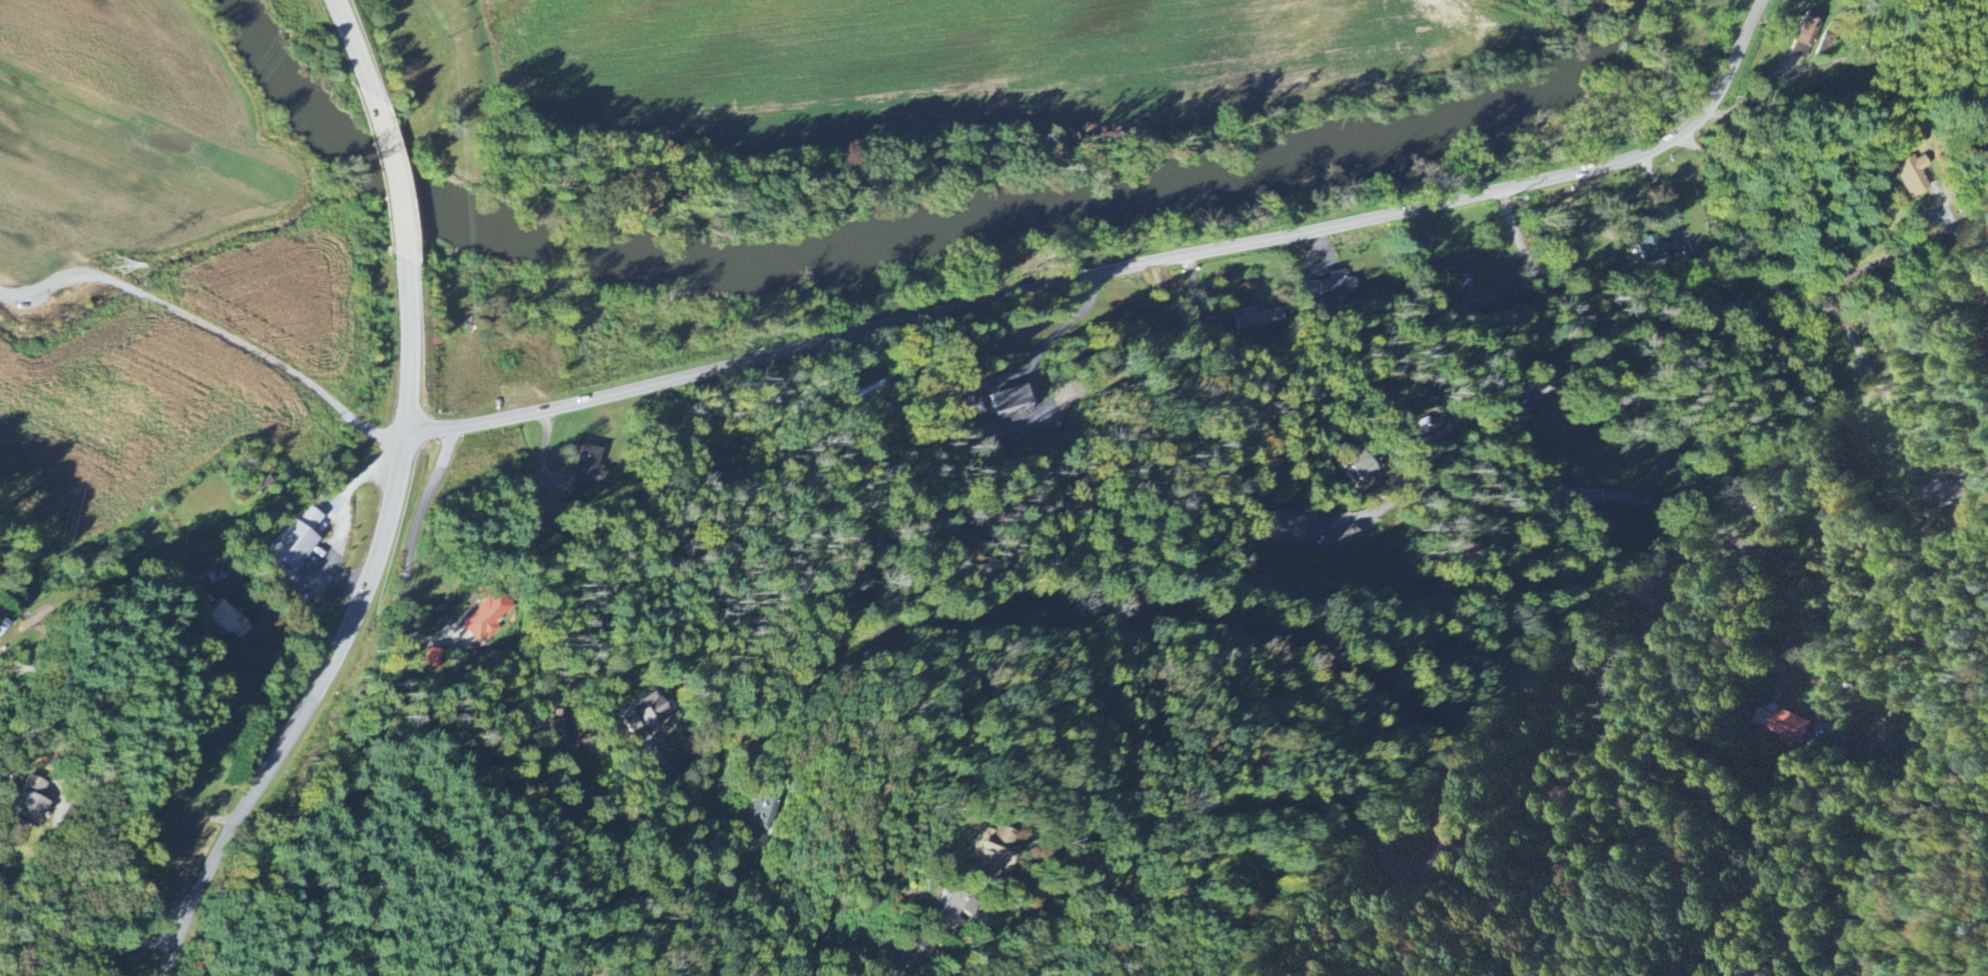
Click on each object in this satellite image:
river: (1612, 18)
building: (1803, 36)
road: (353, 47)
road: (1752, 96)
building: (1910, 175)
road: (389, 176)
river: (888, 236)
building: (1657, 251)
power tower: (96, 254)
road: (1890, 257)
road: (1121, 268)
building: (1332, 290)
building: (1474, 298)
road: (1795, 299)
building: (1258, 321)
road: (210, 329)
road: (1049, 340)
building: (1004, 404)
building: (1427, 433)
road: (1154, 438)
building: (715, 463)
road: (1671, 467)
building: (1356, 468)
building: (588, 471)
building: (1947, 492)
road: (1523, 495)
building: (1289, 526)
building: (1345, 538)
building: (298, 540)
building: (216, 571)
building: (849, 587)
building: (1654, 595)
building: (487, 617)
road: (1120, 618)
building: (230, 621)
building: (2, 622)
road: (350, 635)
power tower: (11, 652)
building: (433, 658)
building: (644, 715)
building: (1789, 727)
building: (1893, 727)
road: (187, 734)
building: (46, 802)
building: (760, 813)
road: (95, 842)
building: (988, 853)
road: (684, 861)
building: (951, 915)
road: (1020, 915)
road: (89, 945)
building: (911, 956)

